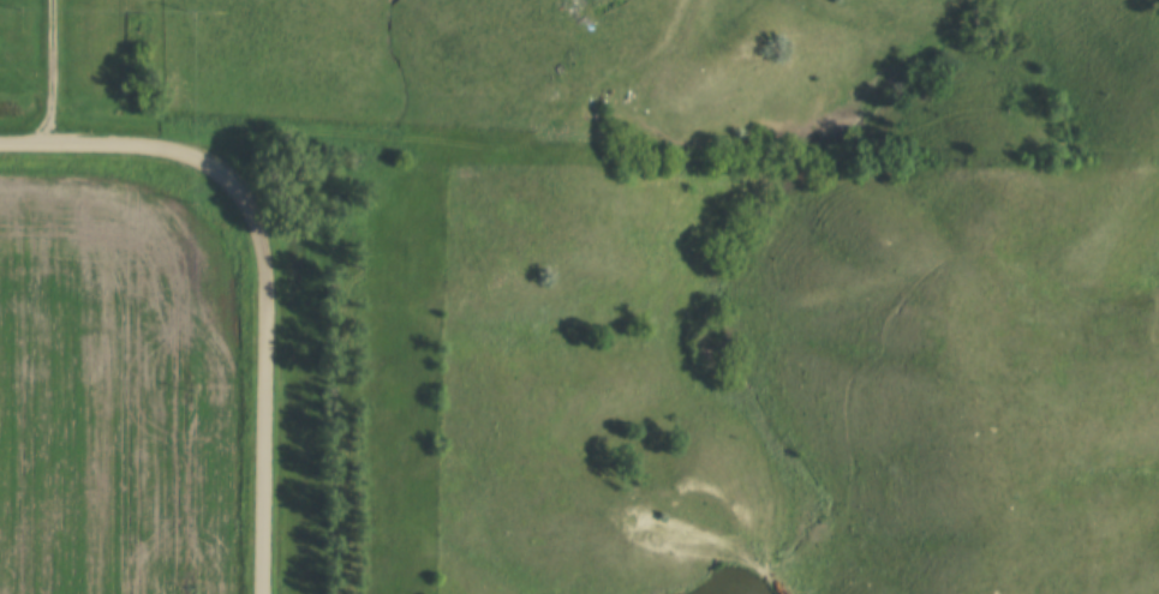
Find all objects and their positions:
road: (96, 143)
road: (263, 360)

